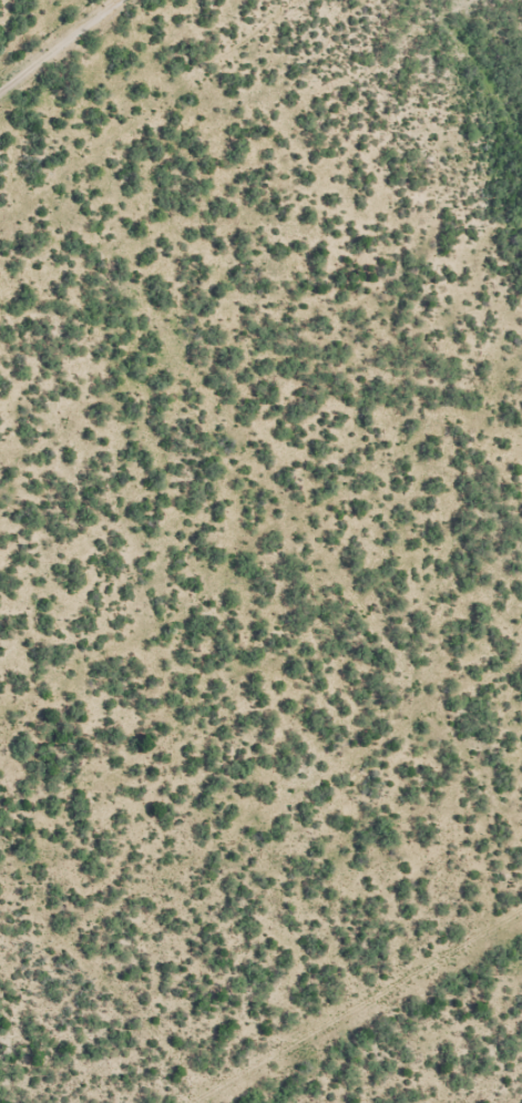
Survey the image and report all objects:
road: (355, 1007)

